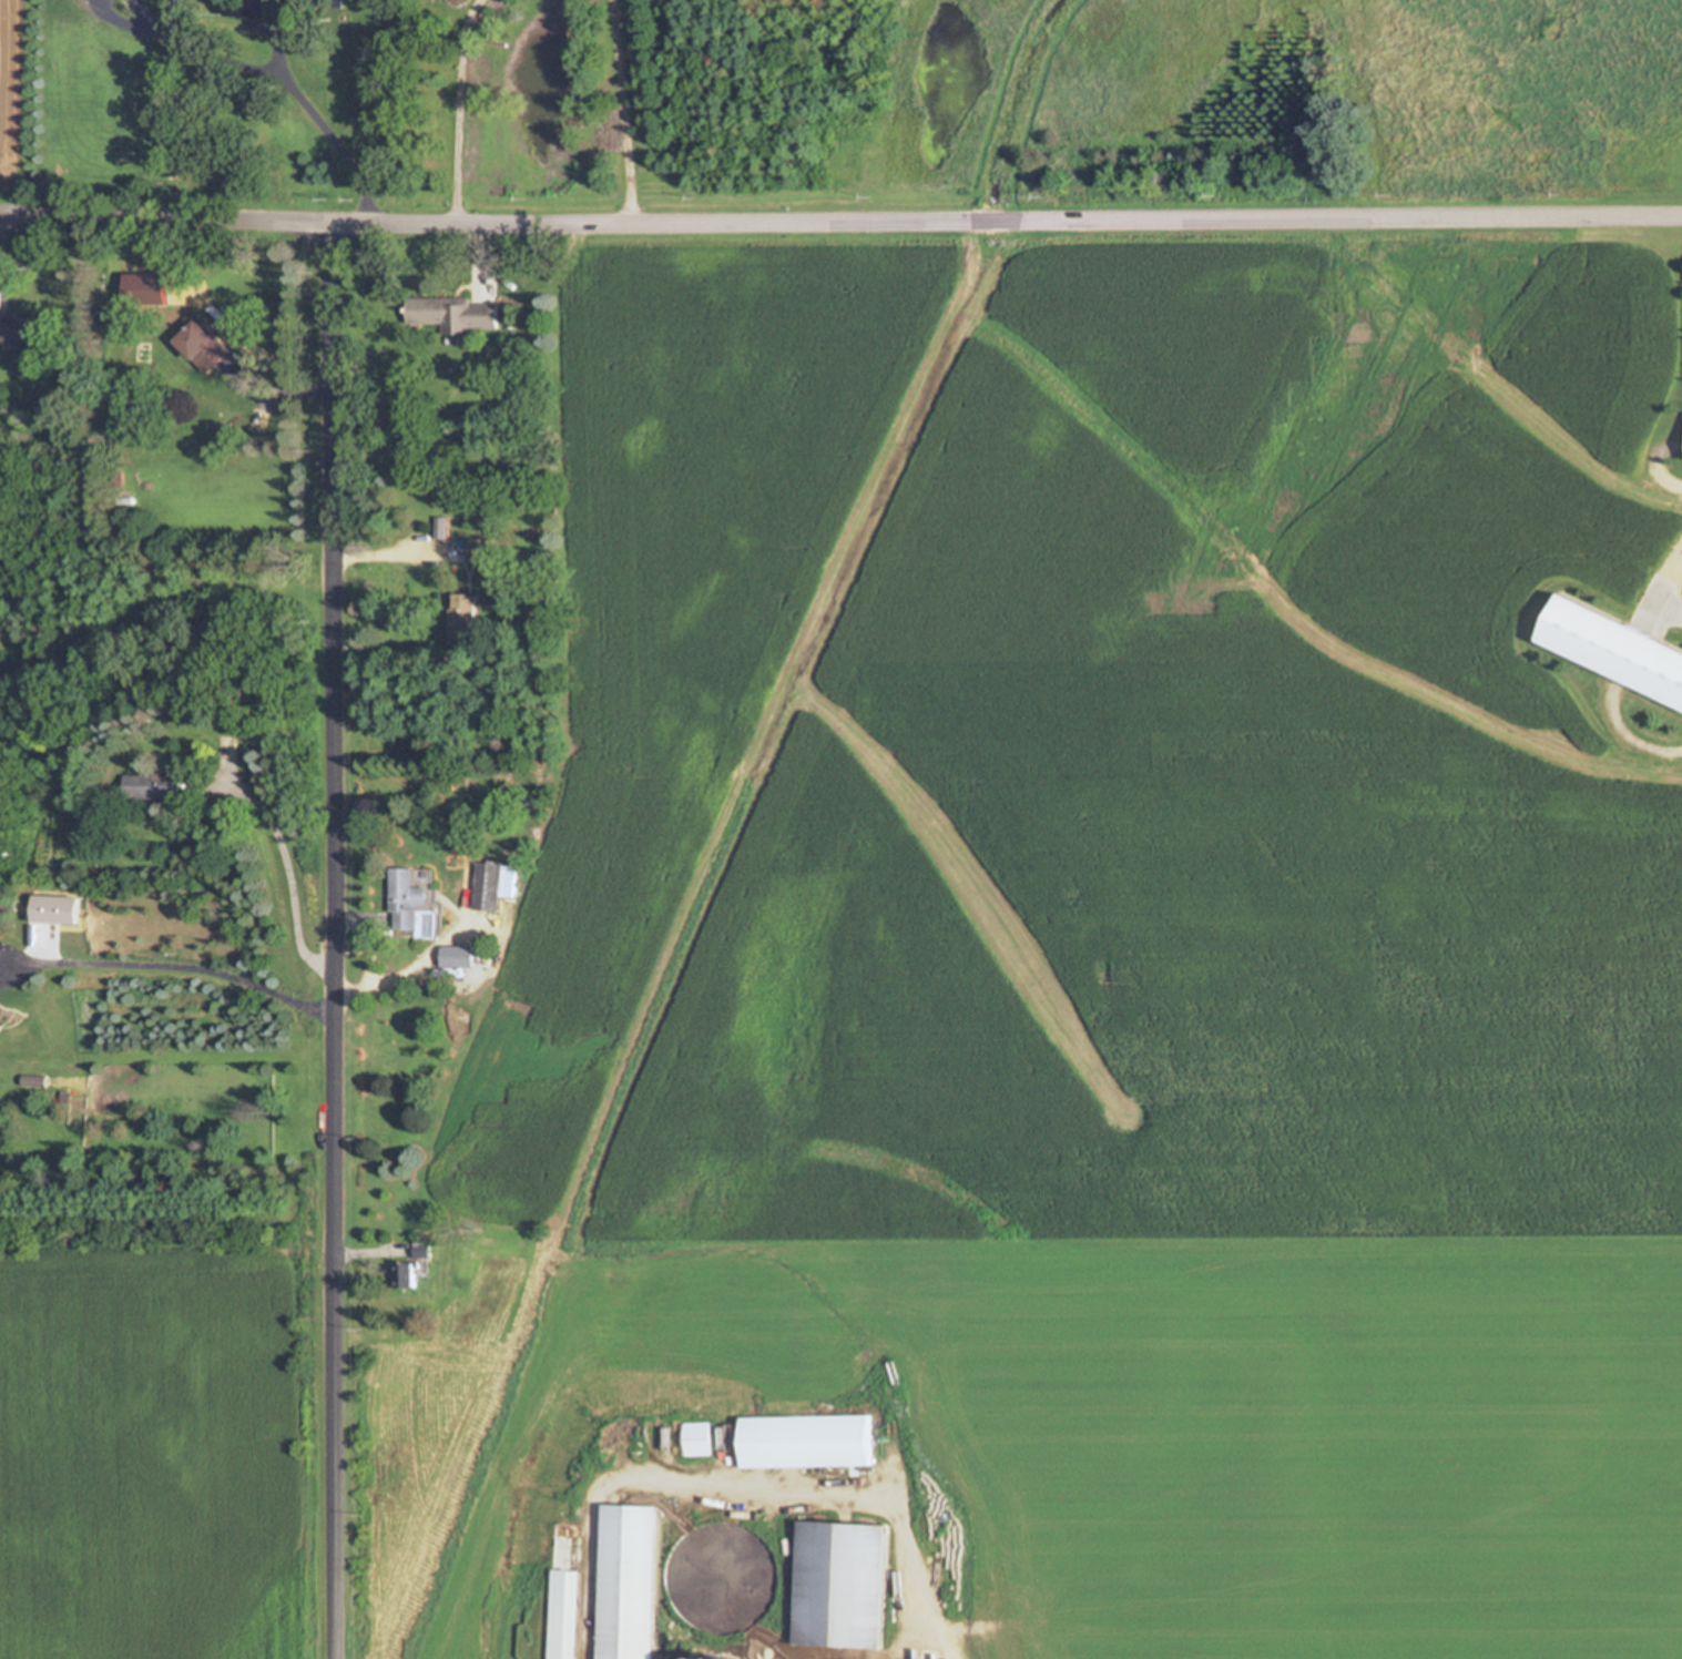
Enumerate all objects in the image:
building: (248, 8)
road: (133, 11)
road: (106, 21)
road: (272, 94)
road: (458, 102)
road: (622, 104)
road: (840, 211)
building: (451, 314)
building: (14, 328)
building: (200, 346)
building: (479, 552)
building: (462, 618)
building: (1614, 650)
building: (152, 787)
road: (287, 877)
building: (486, 886)
building: (404, 900)
road: (337, 934)
building: (455, 957)
road: (183, 965)
building: (420, 1249)
building: (404, 1275)
building: (816, 1442)
building: (630, 1582)
building: (839, 1586)
building: (561, 1615)

